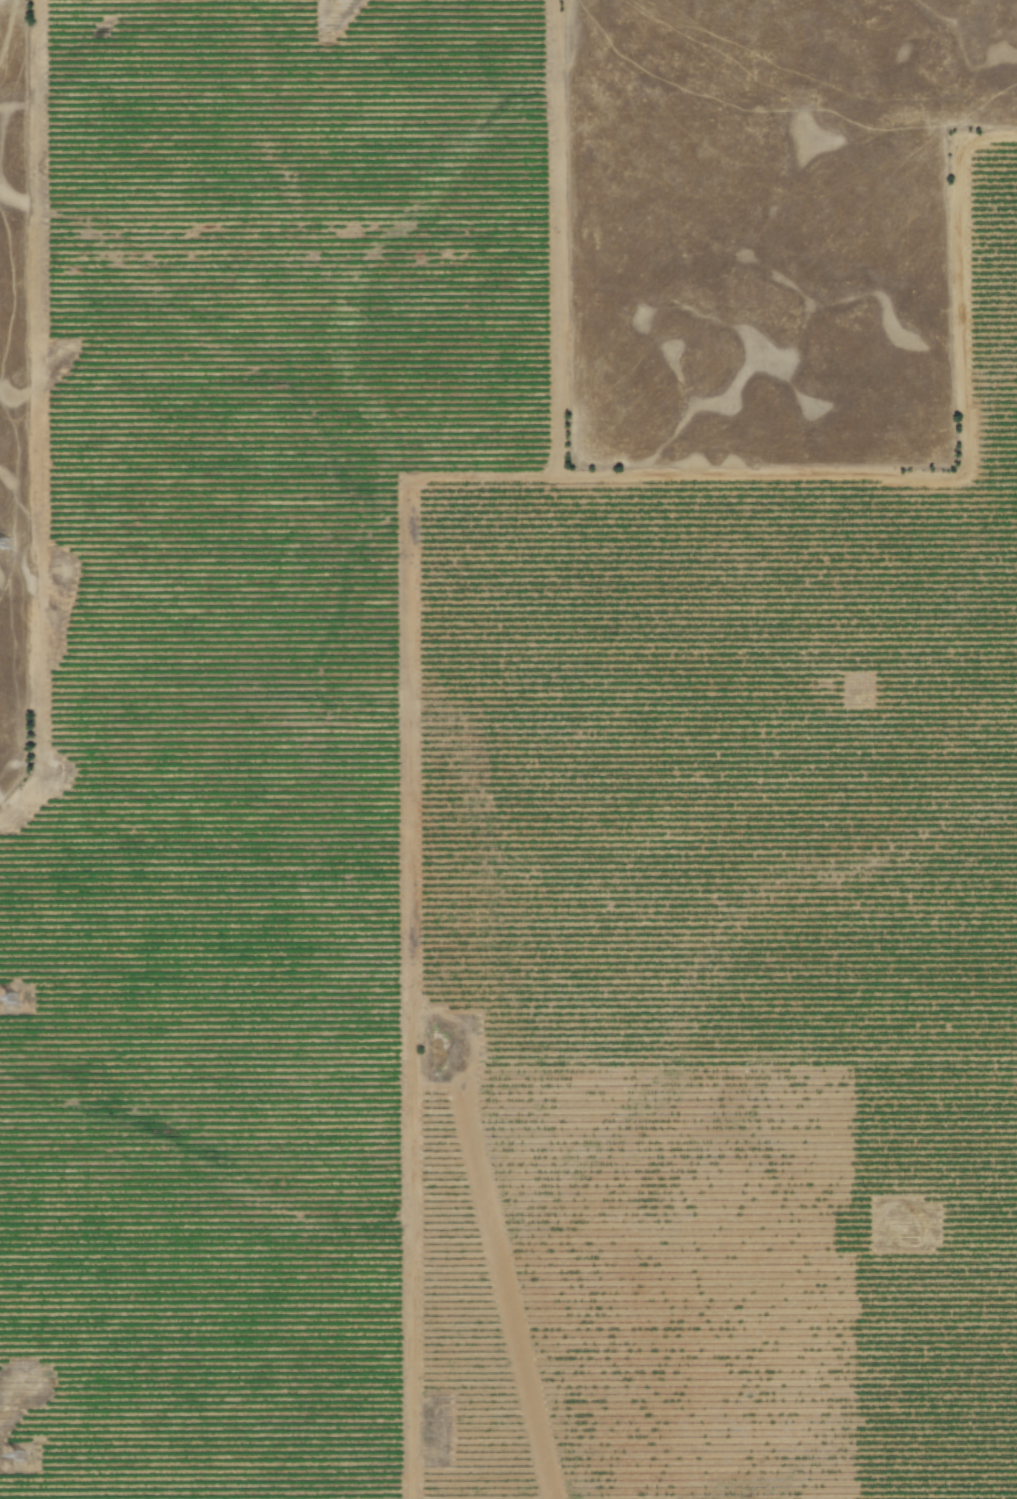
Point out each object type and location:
power tower: (12, 545)
crop: (482, 831)
power tower: (18, 1002)
power tower: (25, 1458)

